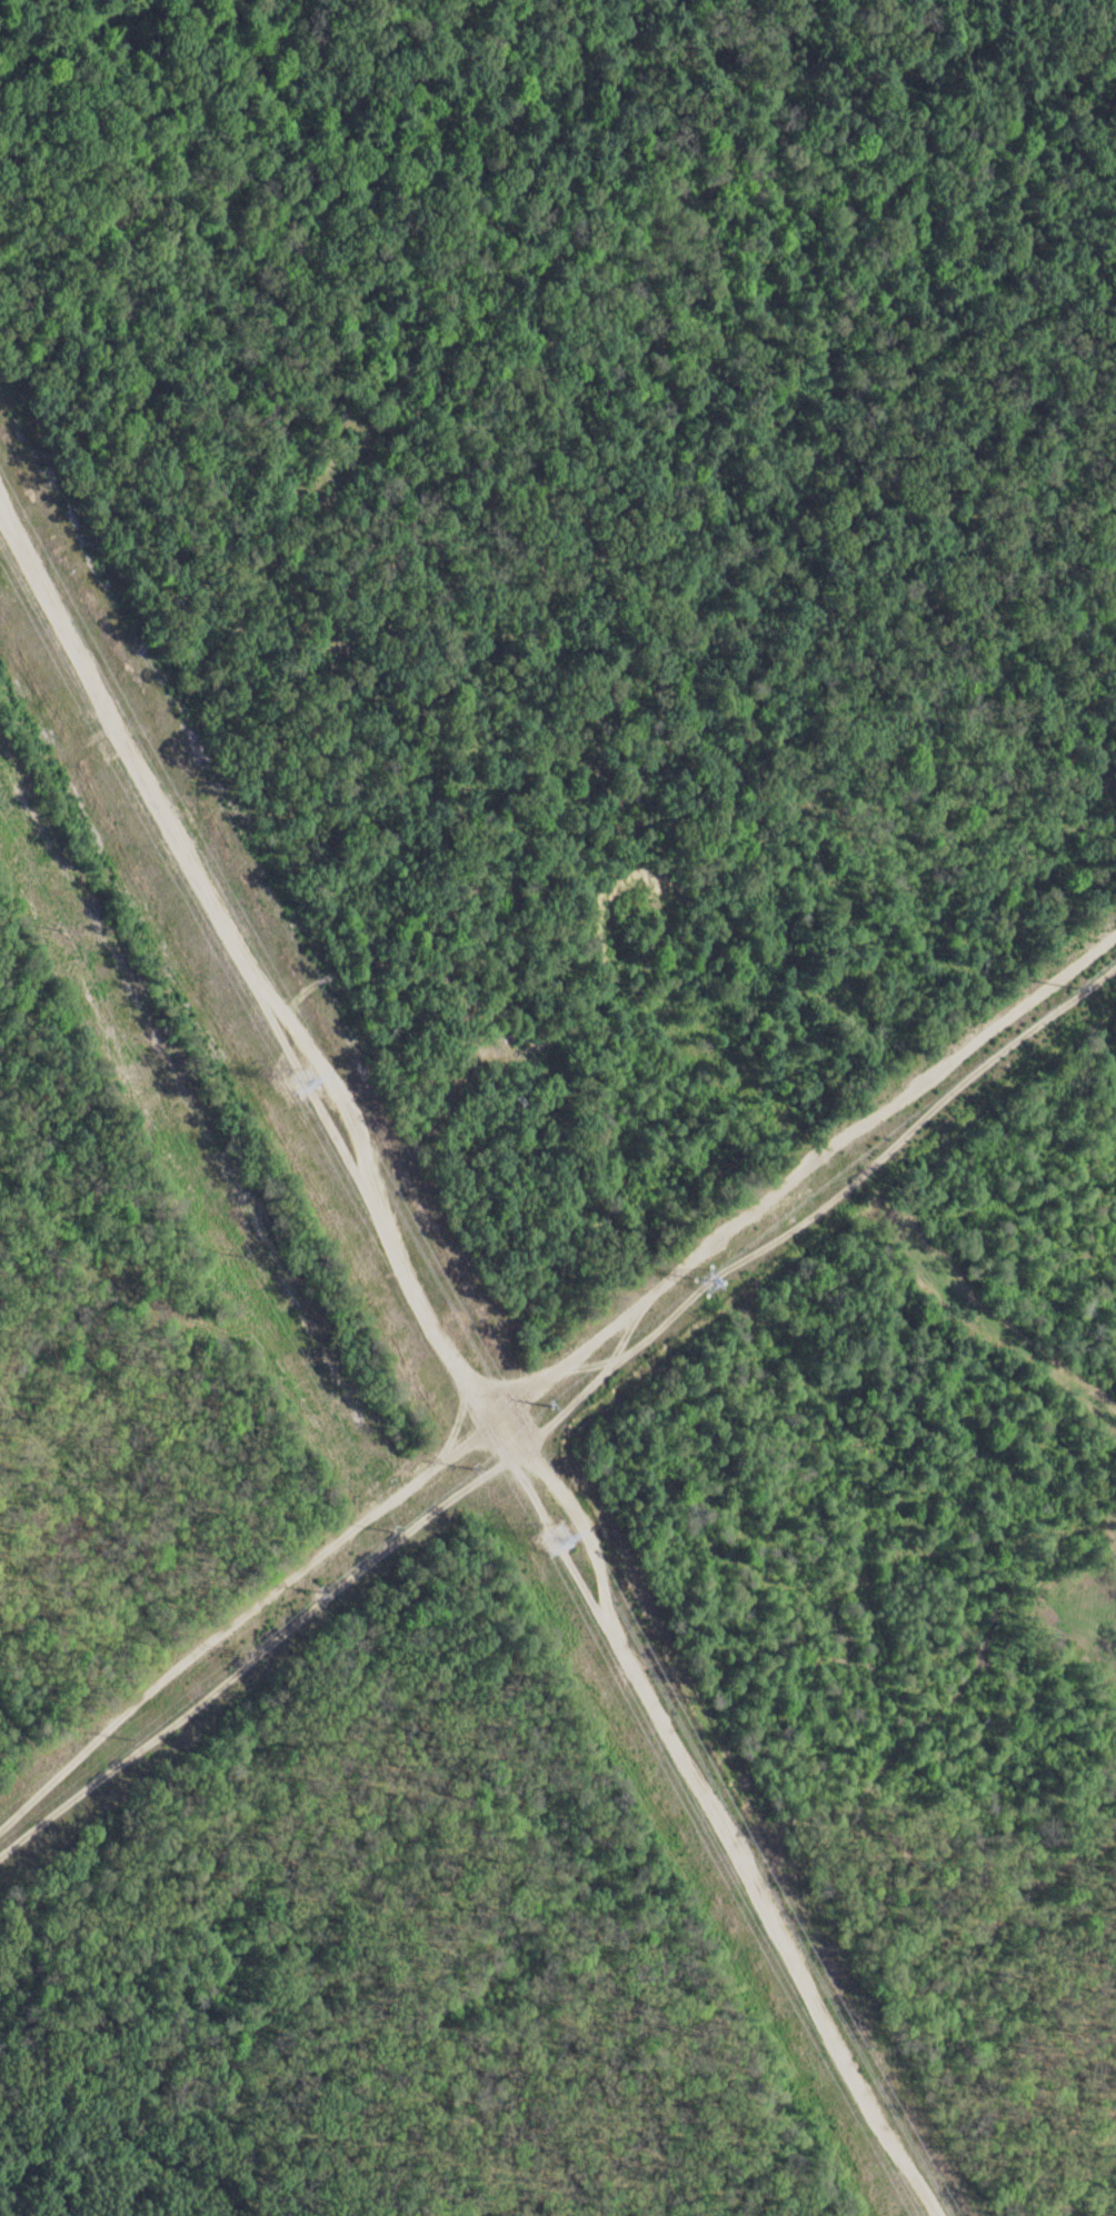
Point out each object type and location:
power tower: (298, 1076)
power tower: (710, 1274)
road: (558, 1378)
power tower: (552, 1397)
power tower: (552, 1530)

